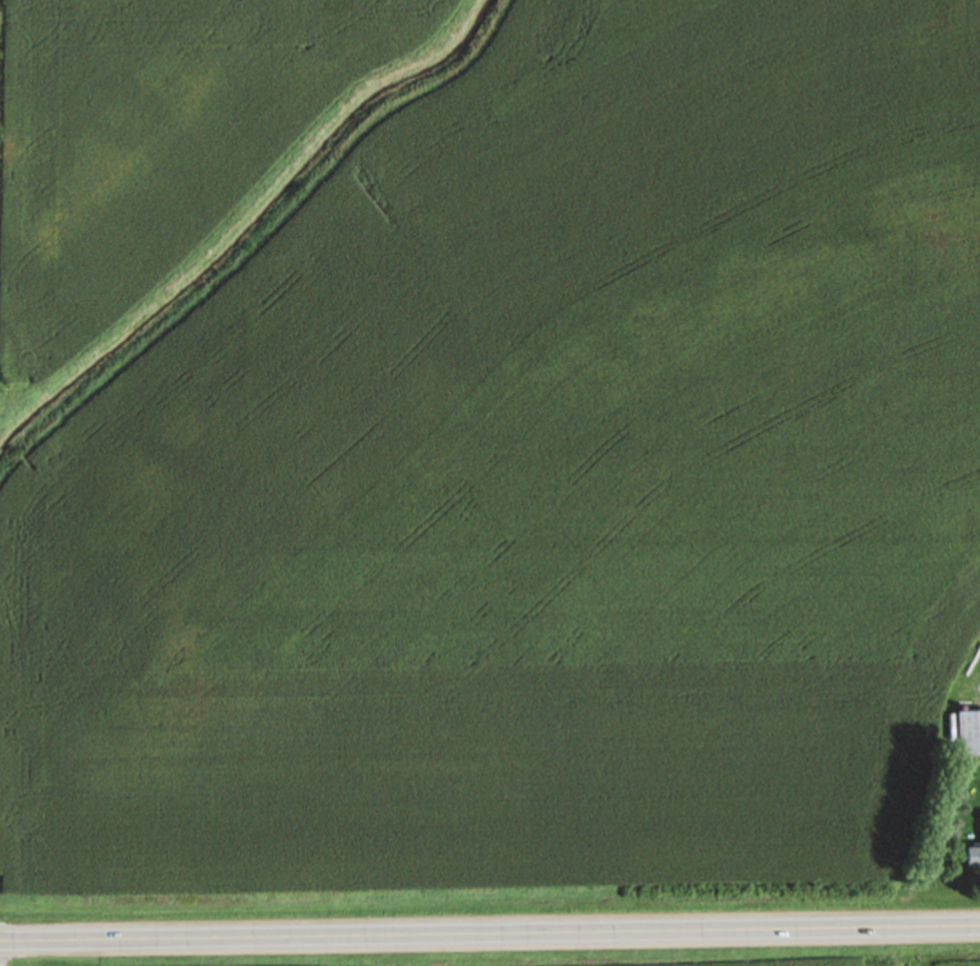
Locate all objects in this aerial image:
building: (967, 738)
building: (973, 856)
road: (489, 936)

